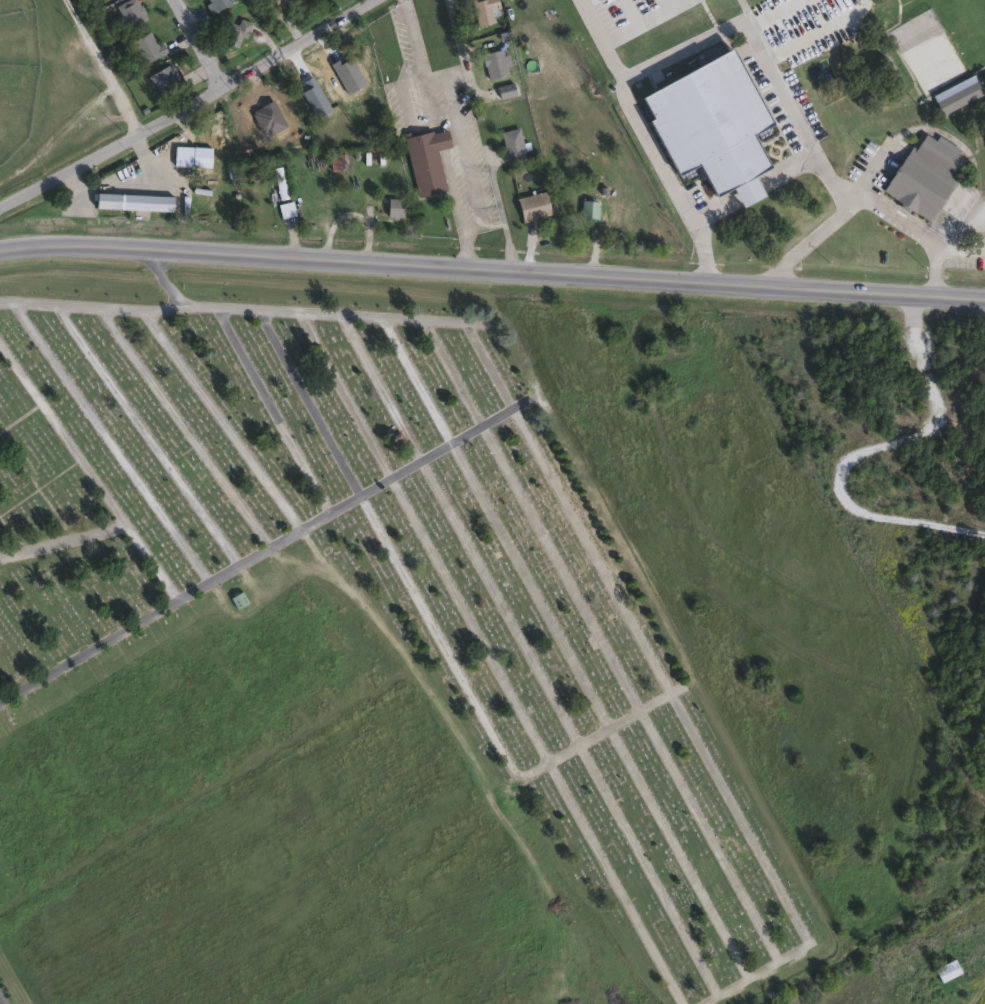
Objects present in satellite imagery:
building: (278, 3)
building: (216, 4)
building: (483, 10)
building: (130, 12)
road: (644, 21)
building: (234, 31)
road: (197, 42)
building: (145, 45)
road: (458, 47)
building: (492, 63)
building: (164, 77)
building: (504, 89)
building: (310, 93)
building: (956, 93)
road: (790, 100)
road: (185, 104)
building: (708, 122)
road: (459, 126)
road: (649, 139)
building: (511, 143)
building: (181, 154)
building: (425, 159)
building: (338, 161)
road: (869, 171)
building: (923, 172)
building: (278, 181)
building: (132, 201)
building: (531, 204)
building: (394, 207)
building: (587, 208)
building: (285, 209)
road: (917, 229)
road: (18, 243)
road: (960, 245)
road: (492, 270)
road: (163, 278)
road: (6, 302)
road: (21, 302)
road: (78, 306)
road: (226, 306)
road: (109, 307)
road: (180, 308)
road: (281, 310)
road: (310, 312)
road: (361, 316)
road: (389, 317)
road: (444, 320)
road: (483, 355)
road: (523, 399)
road: (494, 415)
road: (20, 416)
road: (464, 433)
road: (61, 434)
road: (434, 451)
road: (863, 451)
road: (403, 468)
road: (31, 480)
road: (372, 484)
road: (39, 486)
road: (342, 501)
road: (313, 518)
road: (10, 535)
road: (283, 536)
road: (62, 539)
road: (252, 553)
road: (557, 567)
road: (222, 571)
road: (529, 584)
road: (192, 590)
road: (498, 601)
road: (466, 618)
road: (128, 627)
park: (435, 660)
road: (675, 688)
road: (592, 734)
road: (707, 835)
road: (678, 851)
road: (647, 869)
road: (770, 871)
road: (613, 882)
building: (945, 969)
road: (1, 1001)

